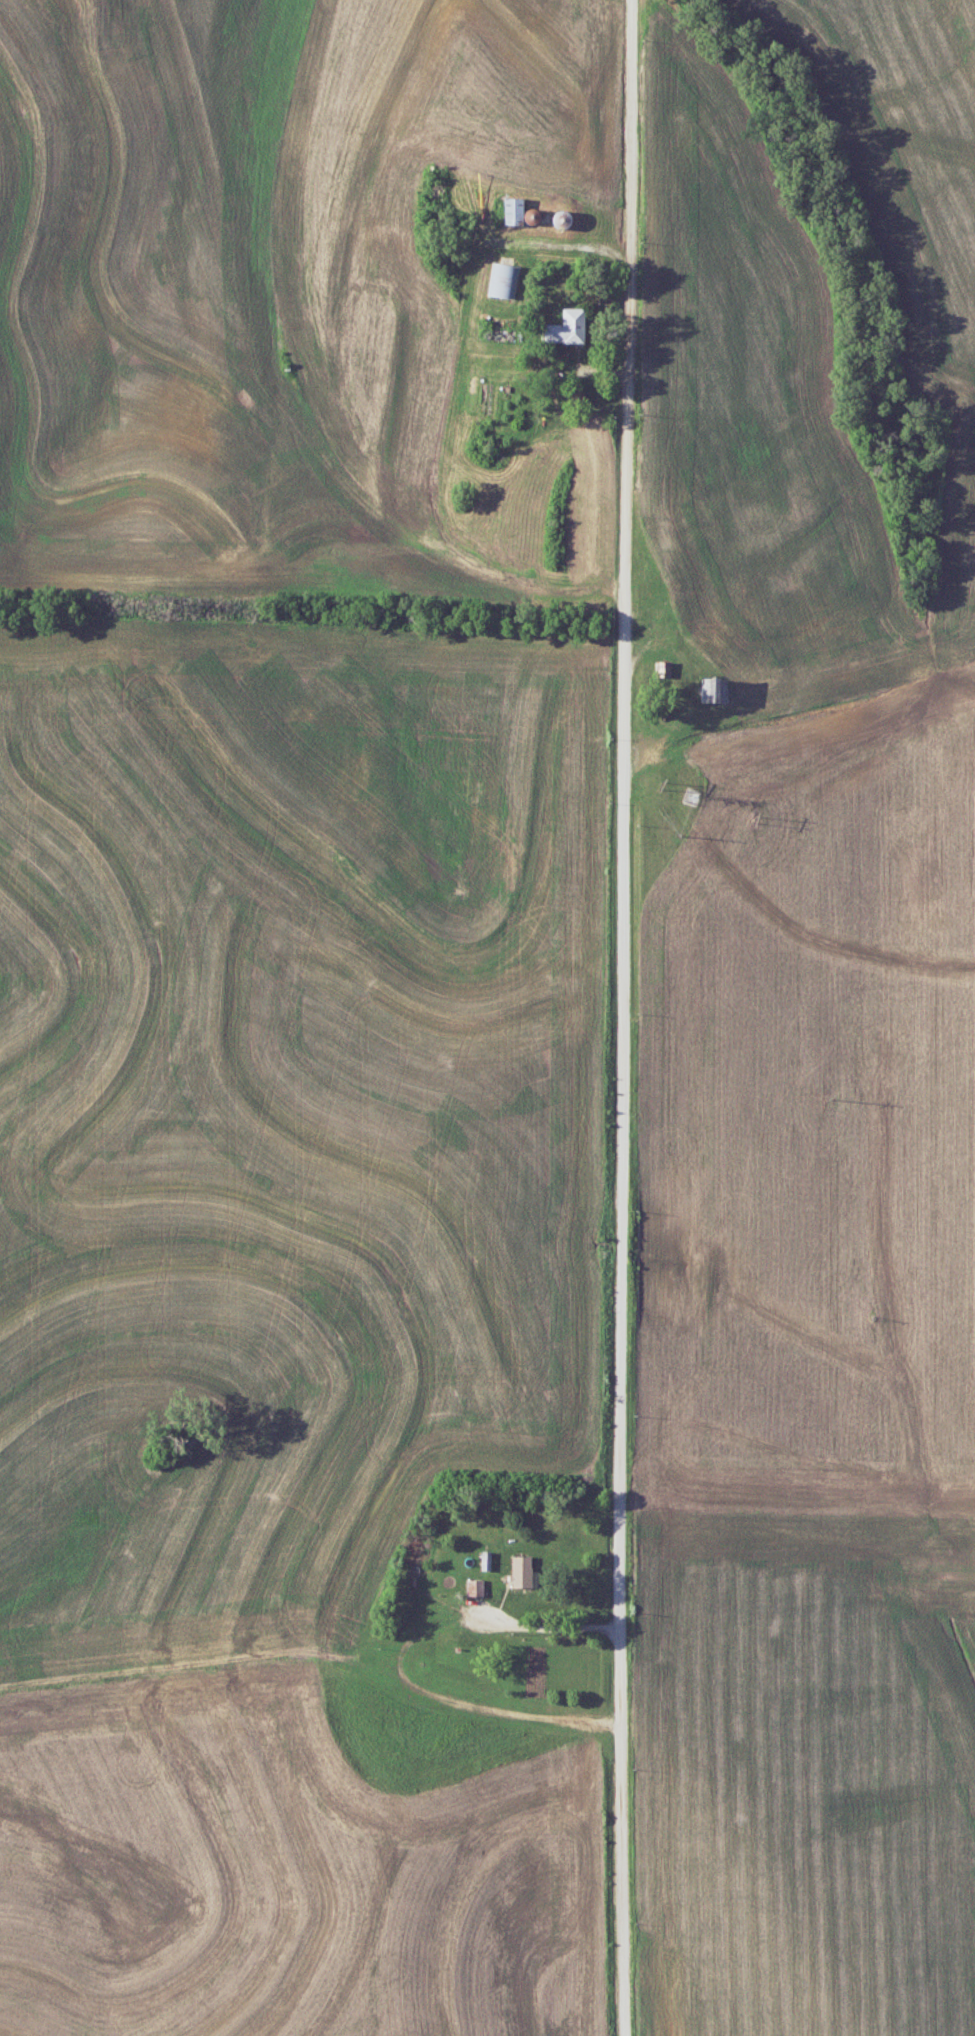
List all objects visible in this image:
building: (511, 205)
building: (557, 218)
building: (504, 280)
building: (565, 327)
building: (661, 666)
building: (712, 686)
road: (685, 700)
road: (624, 1017)
building: (518, 1570)
building: (472, 1586)
road: (523, 1625)

